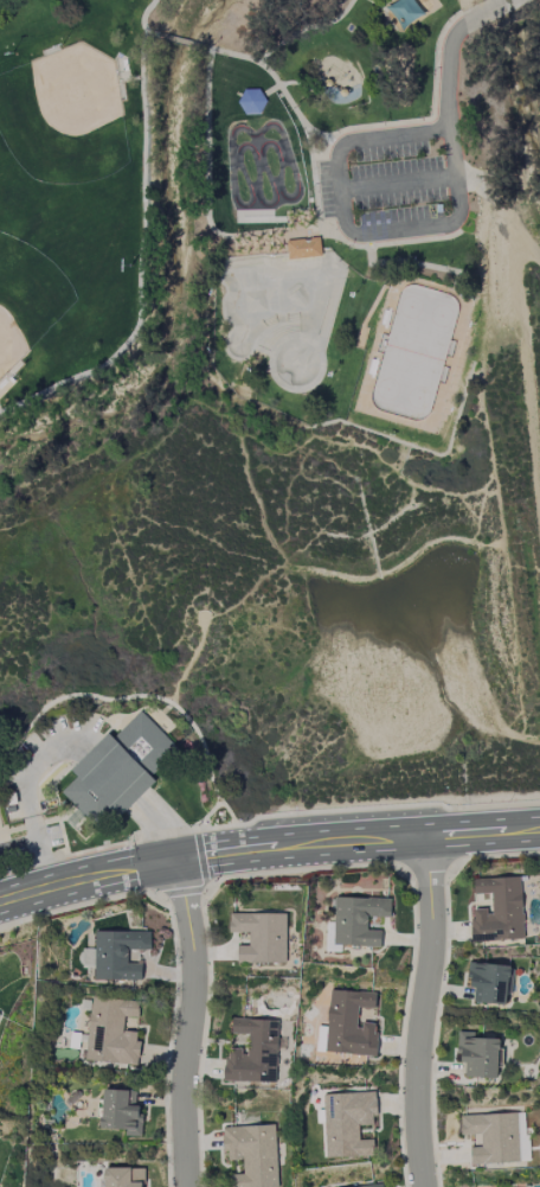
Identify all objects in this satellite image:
road: (382, 11)
building: (406, 13)
road: (306, 30)
road: (159, 36)
road: (191, 45)
road: (124, 58)
road: (270, 74)
road: (136, 78)
road: (289, 85)
road: (435, 94)
road: (448, 98)
building: (252, 103)
park: (65, 111)
road: (121, 117)
road: (207, 146)
road: (330, 151)
road: (503, 170)
road: (467, 181)
road: (397, 184)
parking lot: (394, 185)
road: (316, 186)
road: (340, 189)
park: (263, 219)
road: (404, 243)
road: (143, 244)
building: (306, 250)
road: (538, 255)
road: (275, 256)
road: (413, 264)
road: (373, 305)
park: (25, 307)
park: (281, 314)
road: (27, 344)
road: (361, 350)
building: (413, 351)
park: (413, 352)
road: (451, 365)
road: (18, 371)
road: (531, 416)
road: (309, 583)
road: (212, 612)
road: (187, 666)
road: (143, 697)
road: (163, 711)
road: (154, 727)
road: (527, 740)
road: (36, 762)
building: (117, 771)
road: (133, 799)
road: (339, 809)
road: (206, 816)
road: (43, 822)
road: (354, 828)
road: (59, 835)
road: (5, 836)
road: (140, 837)
road: (18, 845)
road: (38, 847)
road: (96, 849)
traffic signals: (171, 850)
road: (358, 851)
road: (504, 856)
road: (51, 857)
road: (201, 857)
road: (43, 861)
road: (174, 861)
road: (84, 867)
road: (429, 868)
road: (306, 869)
traffic signals: (178, 873)
road: (444, 874)
road: (223, 875)
road: (414, 876)
road: (88, 889)
road: (184, 892)
road: (172, 902)
road: (70, 910)
building: (499, 911)
building: (358, 920)
building: (261, 937)
building: (330, 939)
building: (117, 953)
building: (489, 983)
road: (423, 1006)
building: (349, 1023)
road: (188, 1028)
building: (321, 1028)
building: (111, 1030)
building: (253, 1052)
building: (478, 1055)
building: (121, 1111)
building: (347, 1123)
building: (496, 1137)
building: (252, 1154)
building: (122, 1178)
building: (371, 1186)

